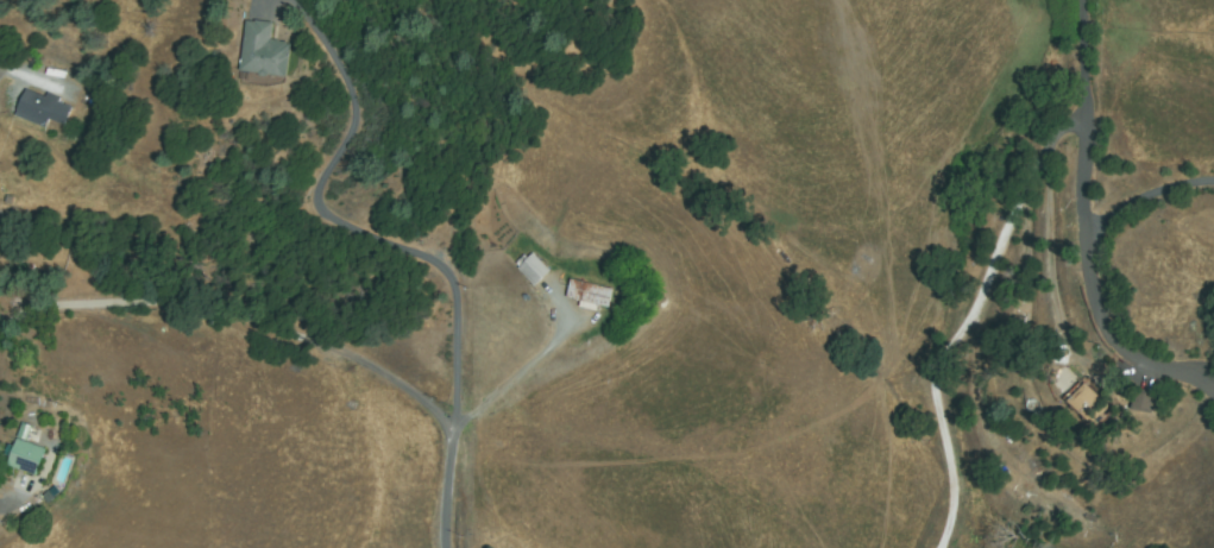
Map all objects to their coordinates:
building: (263, 52)
building: (44, 108)
road: (1084, 241)
building: (533, 270)
building: (590, 295)
road: (970, 313)
road: (289, 333)
building: (1143, 401)
building: (1089, 405)
building: (26, 432)
building: (8, 448)
building: (29, 458)
building: (52, 495)

